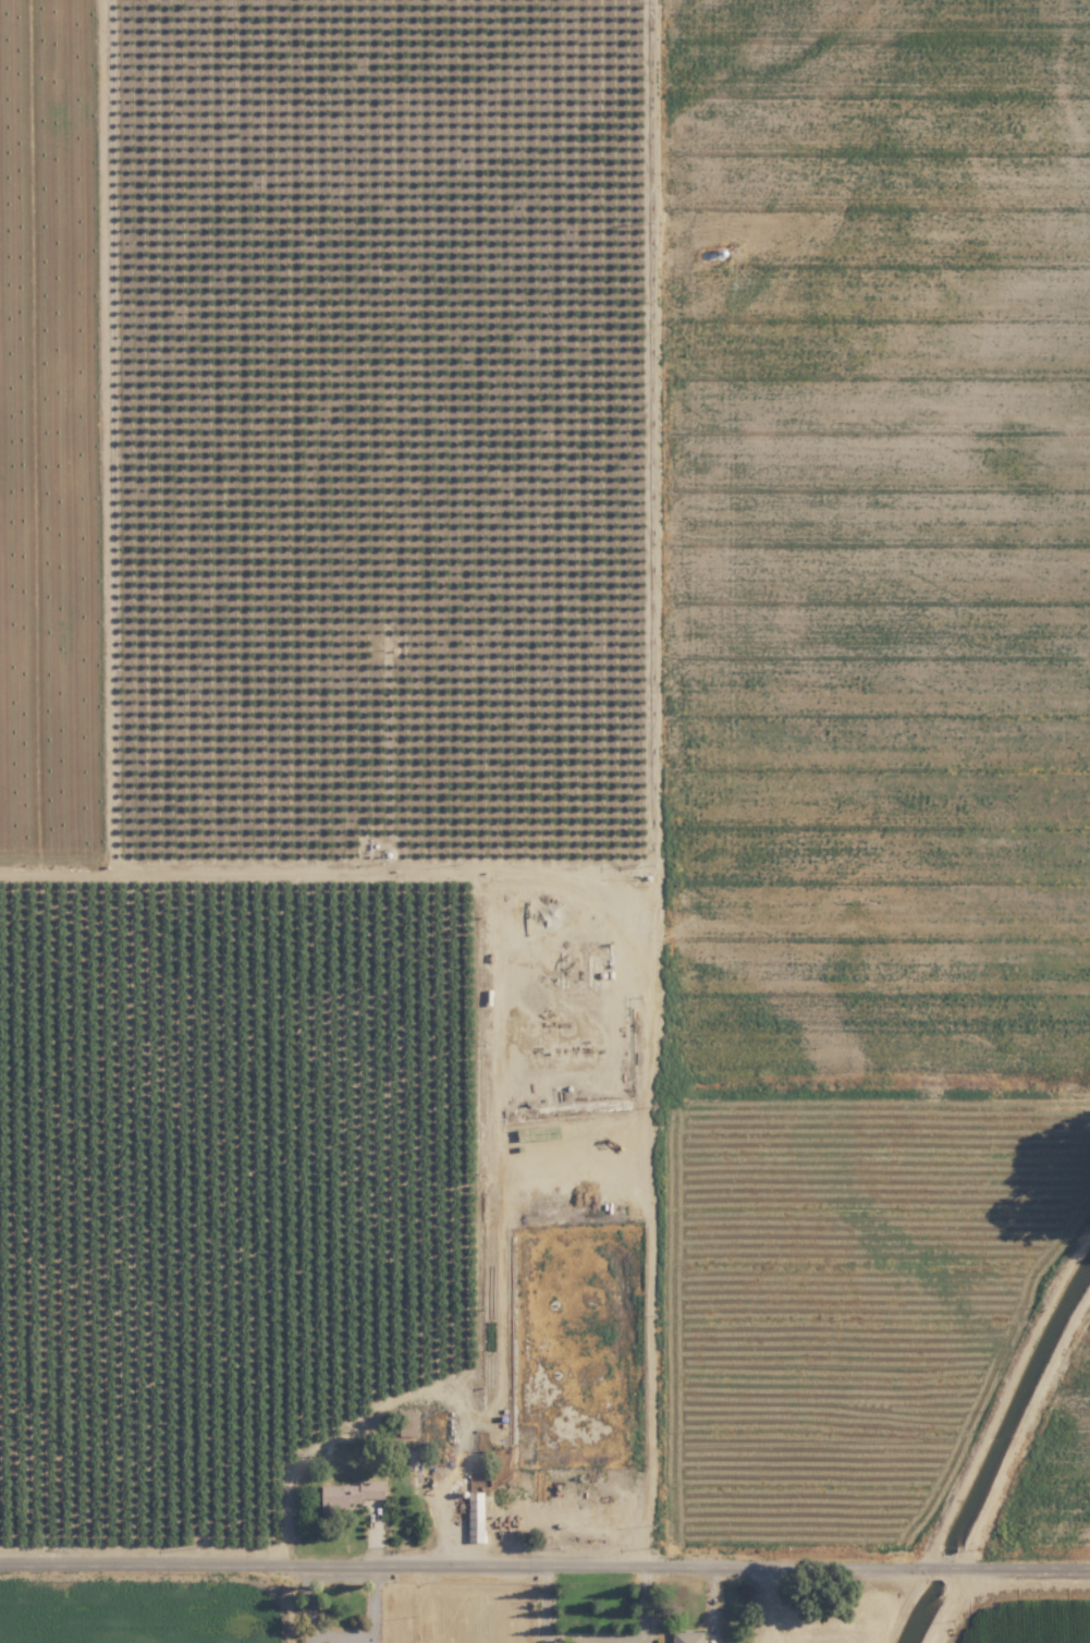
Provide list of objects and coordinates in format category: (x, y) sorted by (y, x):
road: (671, 779)
crop: (544, 821)
road: (1027, 1428)
building: (351, 1494)
building: (477, 1516)
road: (544, 1558)
road: (644, 1633)
road: (548, 1636)
road: (599, 1638)

